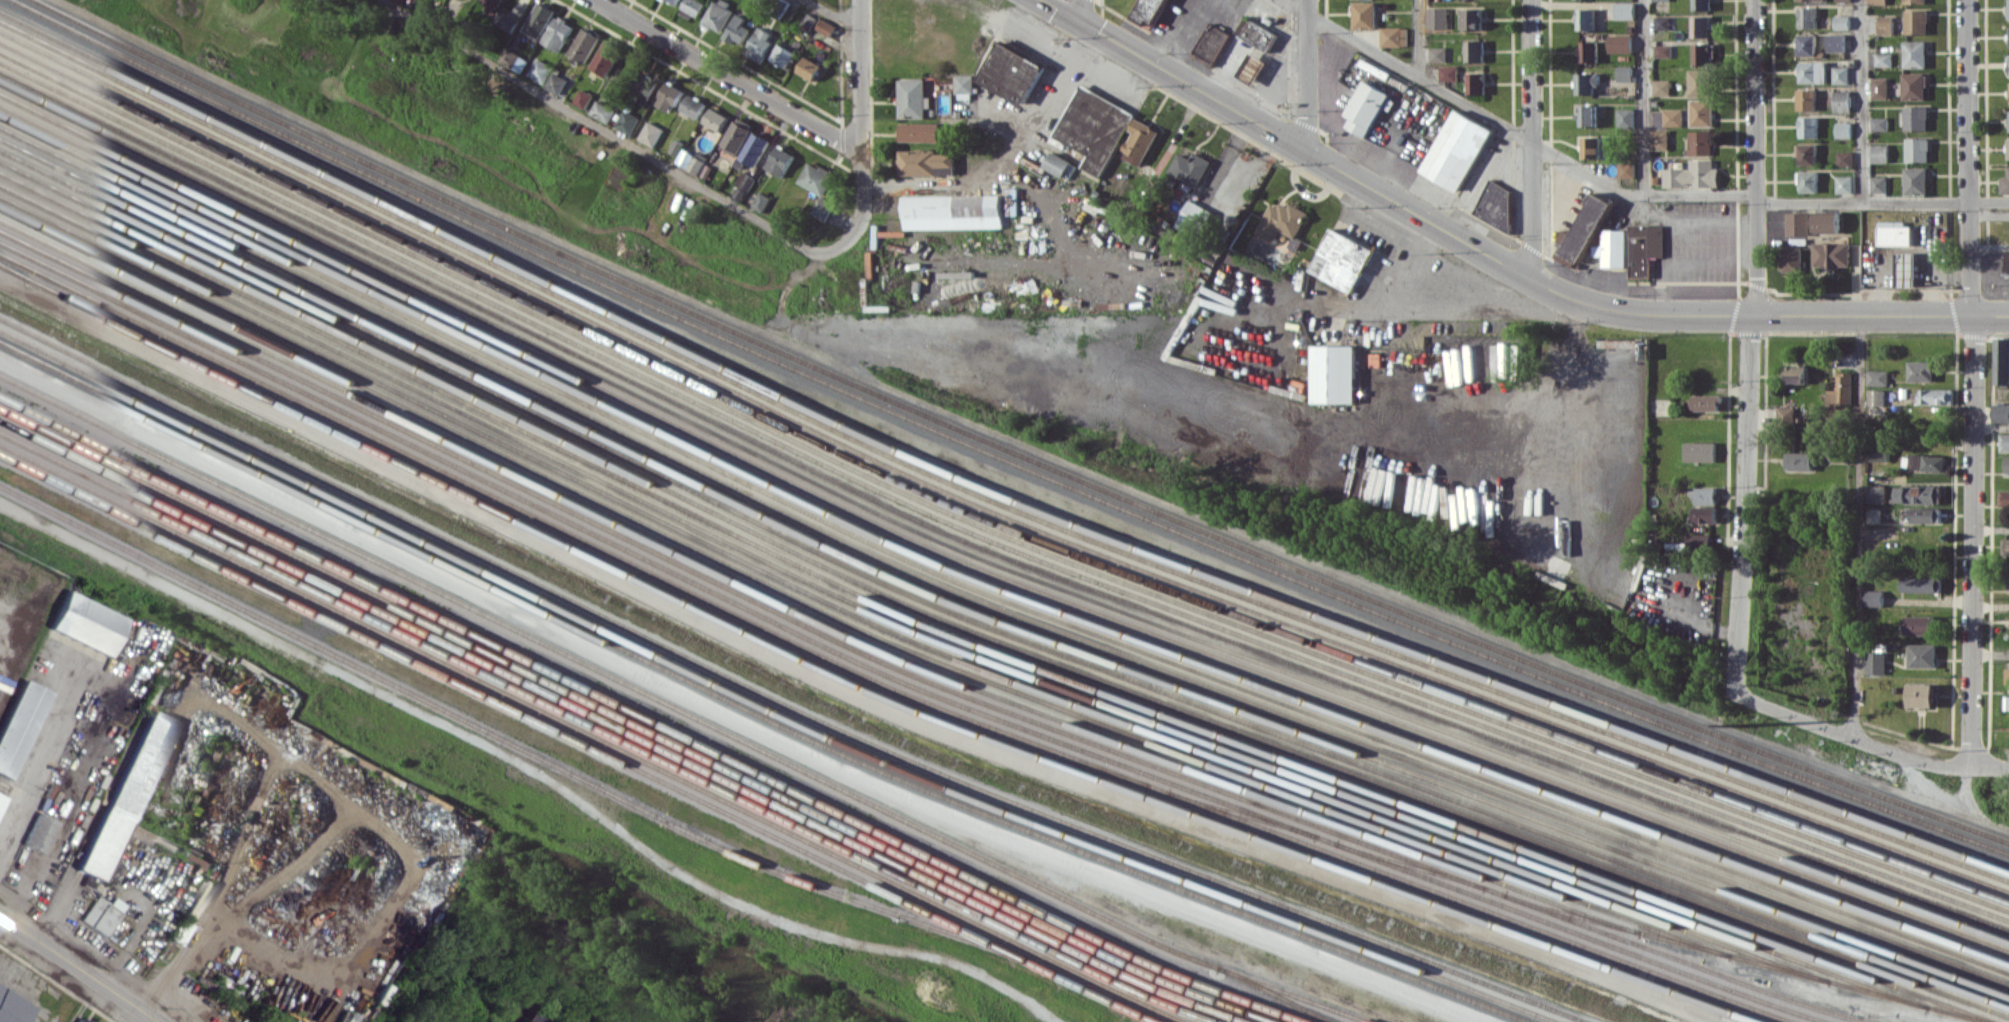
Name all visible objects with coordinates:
building: (1660, 0)
building: (1814, 0)
building: (1843, 0)
building: (675, 1)
building: (1877, 1)
building: (1915, 1)
building: (1701, 5)
building: (493, 7)
building: (694, 7)
road: (1073, 7)
building: (2007, 9)
building: (1624, 10)
building: (1150, 12)
road: (833, 14)
building: (719, 15)
building: (1364, 15)
building: (1436, 17)
building: (1808, 17)
building: (1472, 18)
building: (1585, 19)
building: (540, 20)
building: (508, 21)
building: (1916, 21)
building: (1662, 22)
building: (1886, 25)
building: (1700, 26)
building: (826, 27)
building: (738, 30)
building: (559, 33)
building: (1257, 34)
building: (1393, 36)
road: (1418, 38)
building: (1212, 42)
building: (1837, 42)
building: (760, 43)
building: (1620, 43)
building: (1807, 44)
building: (585, 45)
building: (1474, 50)
building: (1663, 50)
building: (1589, 51)
building: (1703, 53)
building: (1437, 54)
building: (1915, 54)
building: (784, 55)
building: (606, 58)
building: (1883, 59)
building: (810, 68)
building: (1253, 69)
building: (540, 70)
road: (1408, 70)
road: (1531, 71)
building: (1813, 72)
building: (1012, 73)
building: (1448, 73)
building: (1624, 73)
road: (1307, 74)
building: (1841, 74)
road: (730, 77)
building: (1475, 82)
building: (1586, 82)
building: (556, 83)
building: (965, 83)
building: (1699, 83)
building: (647, 85)
building: (1914, 85)
building: (1662, 87)
building: (1880, 88)
building: (669, 96)
road: (1047, 96)
road: (1644, 96)
building: (583, 98)
building: (914, 98)
building: (1806, 99)
building: (1842, 100)
road: (1861, 100)
building: (693, 106)
road: (862, 107)
building: (1366, 107)
building: (603, 111)
building: (1701, 112)
building: (1587, 115)
building: (1625, 117)
building: (1673, 117)
building: (1916, 117)
building: (716, 119)
building: (629, 121)
building: (1879, 123)
building: (1809, 127)
building: (1094, 128)
building: (1843, 129)
building: (920, 132)
building: (651, 133)
building: (737, 135)
road: (1280, 136)
building: (1659, 139)
building: (1140, 141)
road: (1755, 141)
building: (1700, 142)
road: (629, 144)
building: (1591, 147)
building: (755, 148)
building: (2008, 148)
building: (1918, 149)
building: (1456, 150)
building: (1879, 153)
building: (1807, 154)
building: (1845, 158)
building: (780, 160)
building: (691, 161)
building: (927, 162)
building: (1059, 165)
building: (1191, 167)
building: (1626, 170)
building: (1693, 175)
building: (817, 178)
road: (1023, 178)
building: (1916, 180)
building: (1809, 181)
building: (2005, 183)
building: (1844, 184)
building: (1878, 184)
road: (1637, 193)
building: (762, 201)
road: (1882, 201)
building: (1496, 203)
building: (824, 208)
road: (1532, 209)
building: (953, 211)
building: (1194, 216)
building: (1282, 220)
building: (1826, 222)
building: (1798, 223)
road: (1691, 224)
building: (1895, 233)
building: (1613, 248)
building: (1644, 248)
building: (1831, 254)
building: (1790, 258)
building: (1342, 259)
road: (1681, 260)
building: (2006, 261)
building: (1907, 269)
railway: (11, 273)
road: (1381, 283)
road: (1755, 298)
road: (1760, 314)
road: (1751, 326)
building: (1503, 343)
building: (2001, 360)
building: (1921, 370)
building: (1334, 373)
building: (1796, 374)
building: (1878, 377)
road: (1974, 383)
building: (1840, 394)
building: (1936, 396)
building: (1876, 397)
building: (1707, 402)
building: (2001, 412)
building: (1786, 413)
road: (1991, 428)
building: (2004, 441)
railway: (1011, 450)
building: (1700, 451)
railway: (997, 456)
building: (1800, 460)
building: (1927, 462)
building: (2006, 464)
railway: (986, 483)
building: (1876, 493)
building: (1917, 494)
railway: (985, 495)
building: (1706, 495)
building: (2004, 498)
railway: (984, 508)
building: (1705, 514)
road: (1744, 515)
building: (1926, 515)
railway: (984, 519)
road: (1858, 527)
railway: (984, 529)
railway: (983, 539)
building: (1699, 541)
building: (2005, 546)
railway: (984, 547)
railway: (984, 558)
railway: (984, 568)
building: (2008, 572)
railway: (984, 580)
building: (1921, 584)
railway: (738, 592)
railway: (984, 592)
building: (1874, 597)
railway: (984, 601)
railway: (803, 612)
railway: (984, 613)
railway: (847, 621)
building: (87, 623)
railway: (984, 624)
building: (1920, 625)
railway: (895, 630)
railway: (985, 635)
railway: (944, 641)
railway: (978, 644)
building: (1922, 655)
road: (1990, 655)
building: (1875, 663)
building: (2006, 675)
railway: (898, 678)
railway: (879, 680)
railway: (862, 686)
road: (836, 689)
building: (1921, 695)
railway: (783, 699)
railway: (665, 701)
railway: (767, 705)
railway: (752, 711)
road: (731, 716)
railway: (652, 717)
railway: (638, 721)
building: (19, 724)
railway: (578, 726)
railway: (623, 726)
railway: (609, 729)
railway: (575, 736)
road: (1851, 738)
railway: (509, 742)
road: (43, 762)
railway: (1077, 765)
road: (1990, 768)
road: (499, 777)
building: (125, 795)
railway: (1240, 813)
building: (40, 833)
railway: (1408, 865)
building: (102, 914)
building: (182, 932)
railway: (1746, 958)
railway: (1682, 960)
road: (78, 969)
railway: (1295, 994)
building: (12, 1007)
railway: (1171, 1015)
building: (531, 1017)
railway: (1157, 1019)
building: (80, 1020)

